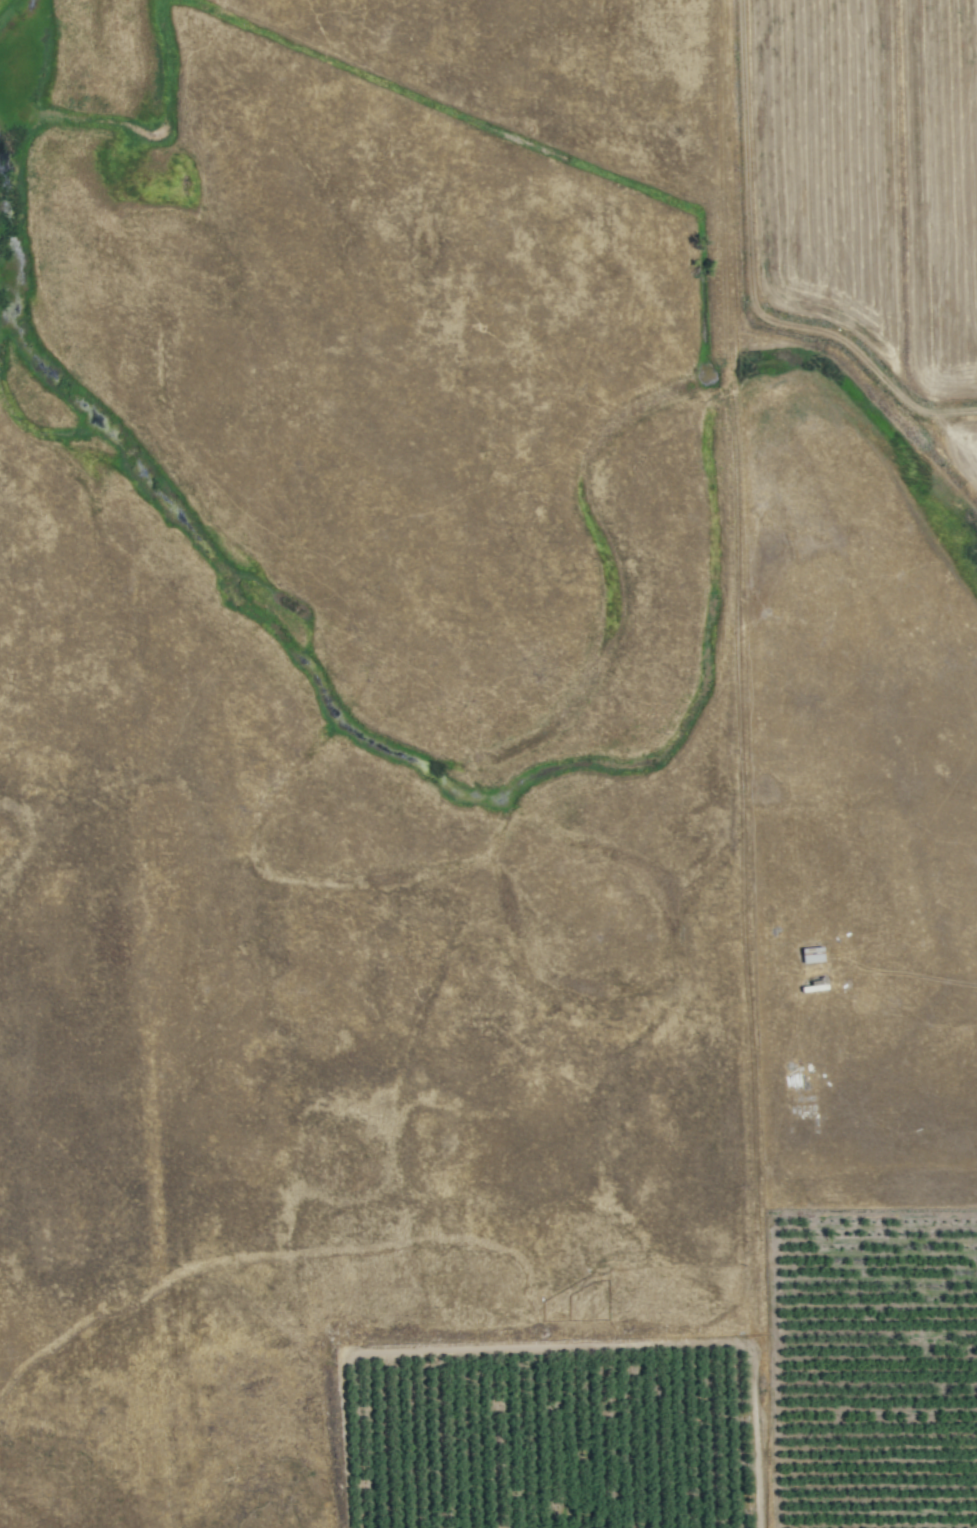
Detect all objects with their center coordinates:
building: (811, 956)

